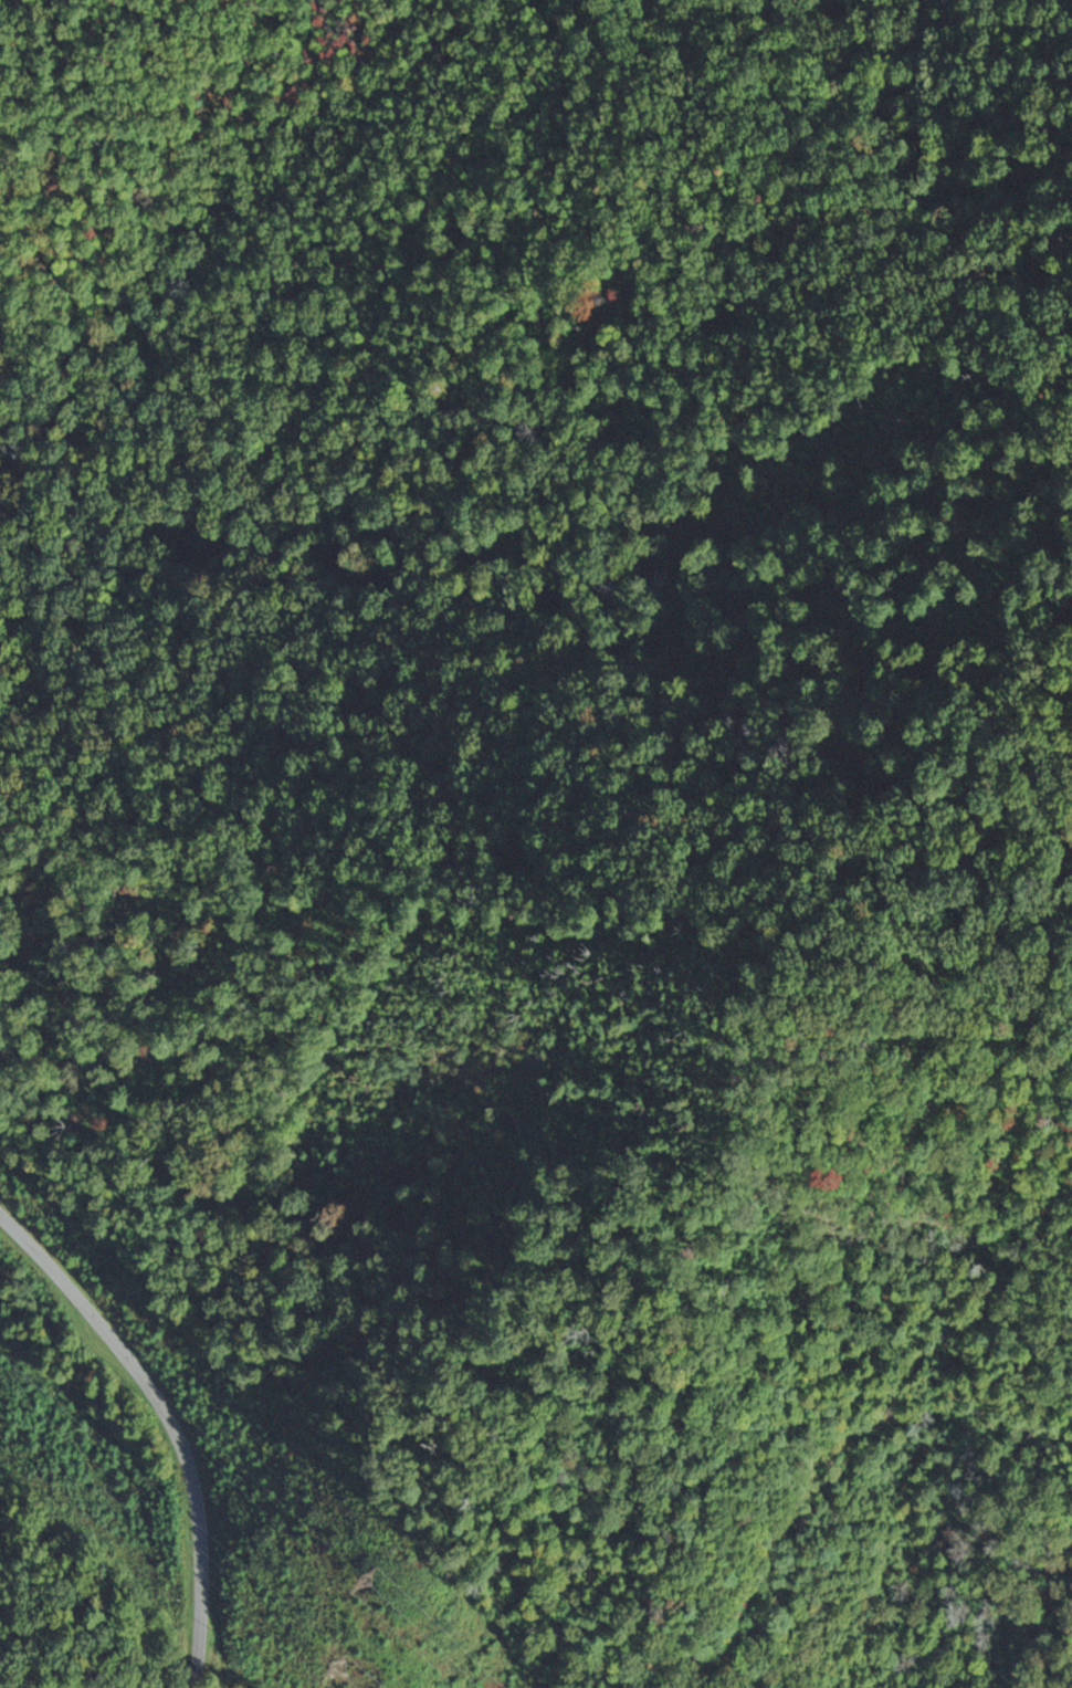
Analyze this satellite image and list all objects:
road: (168, 1425)
power tower: (361, 1582)
power tower: (332, 1668)

